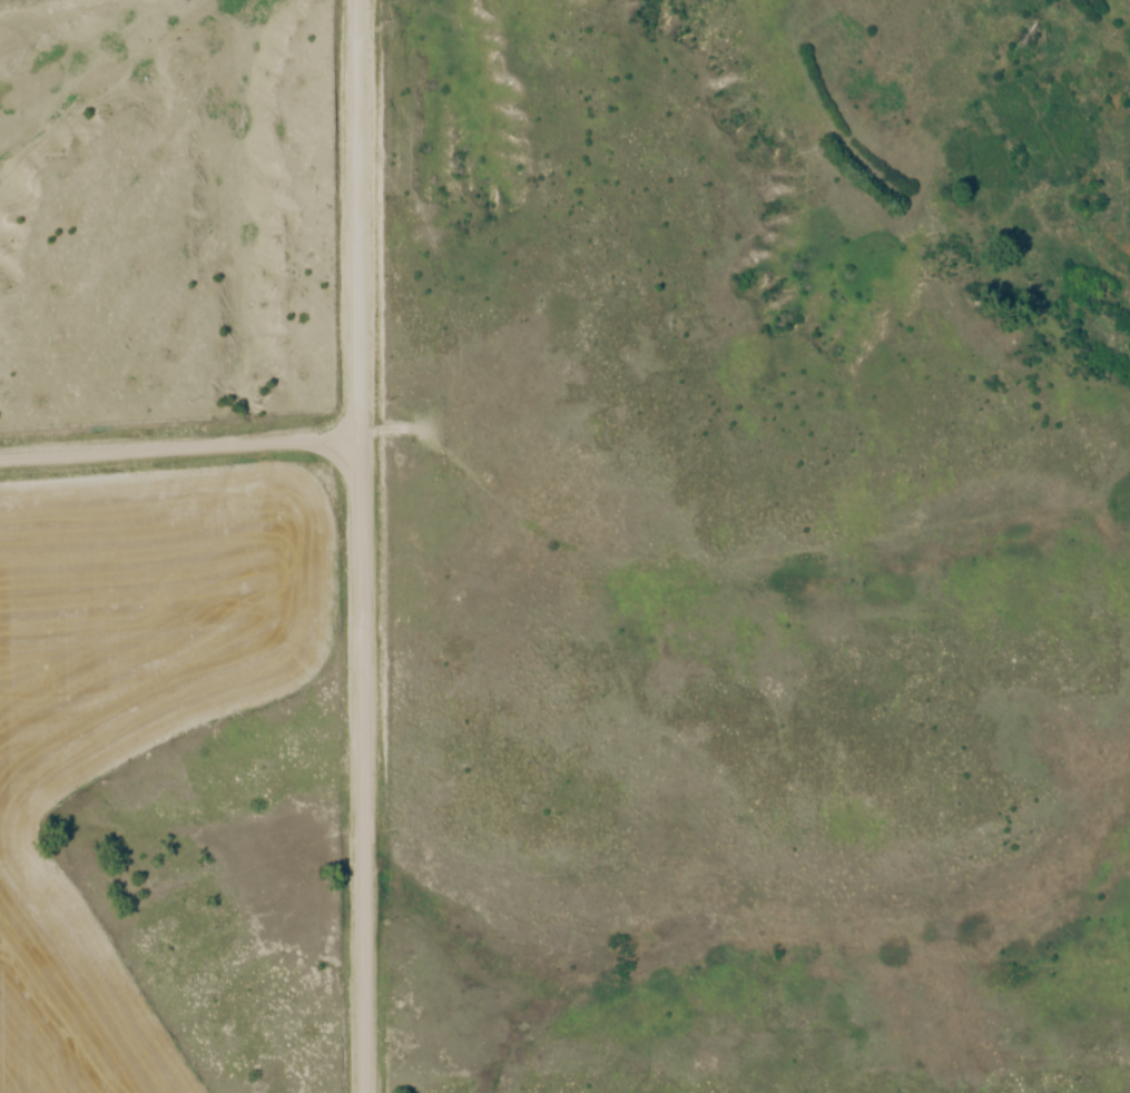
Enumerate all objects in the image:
road: (180, 446)
road: (364, 545)

